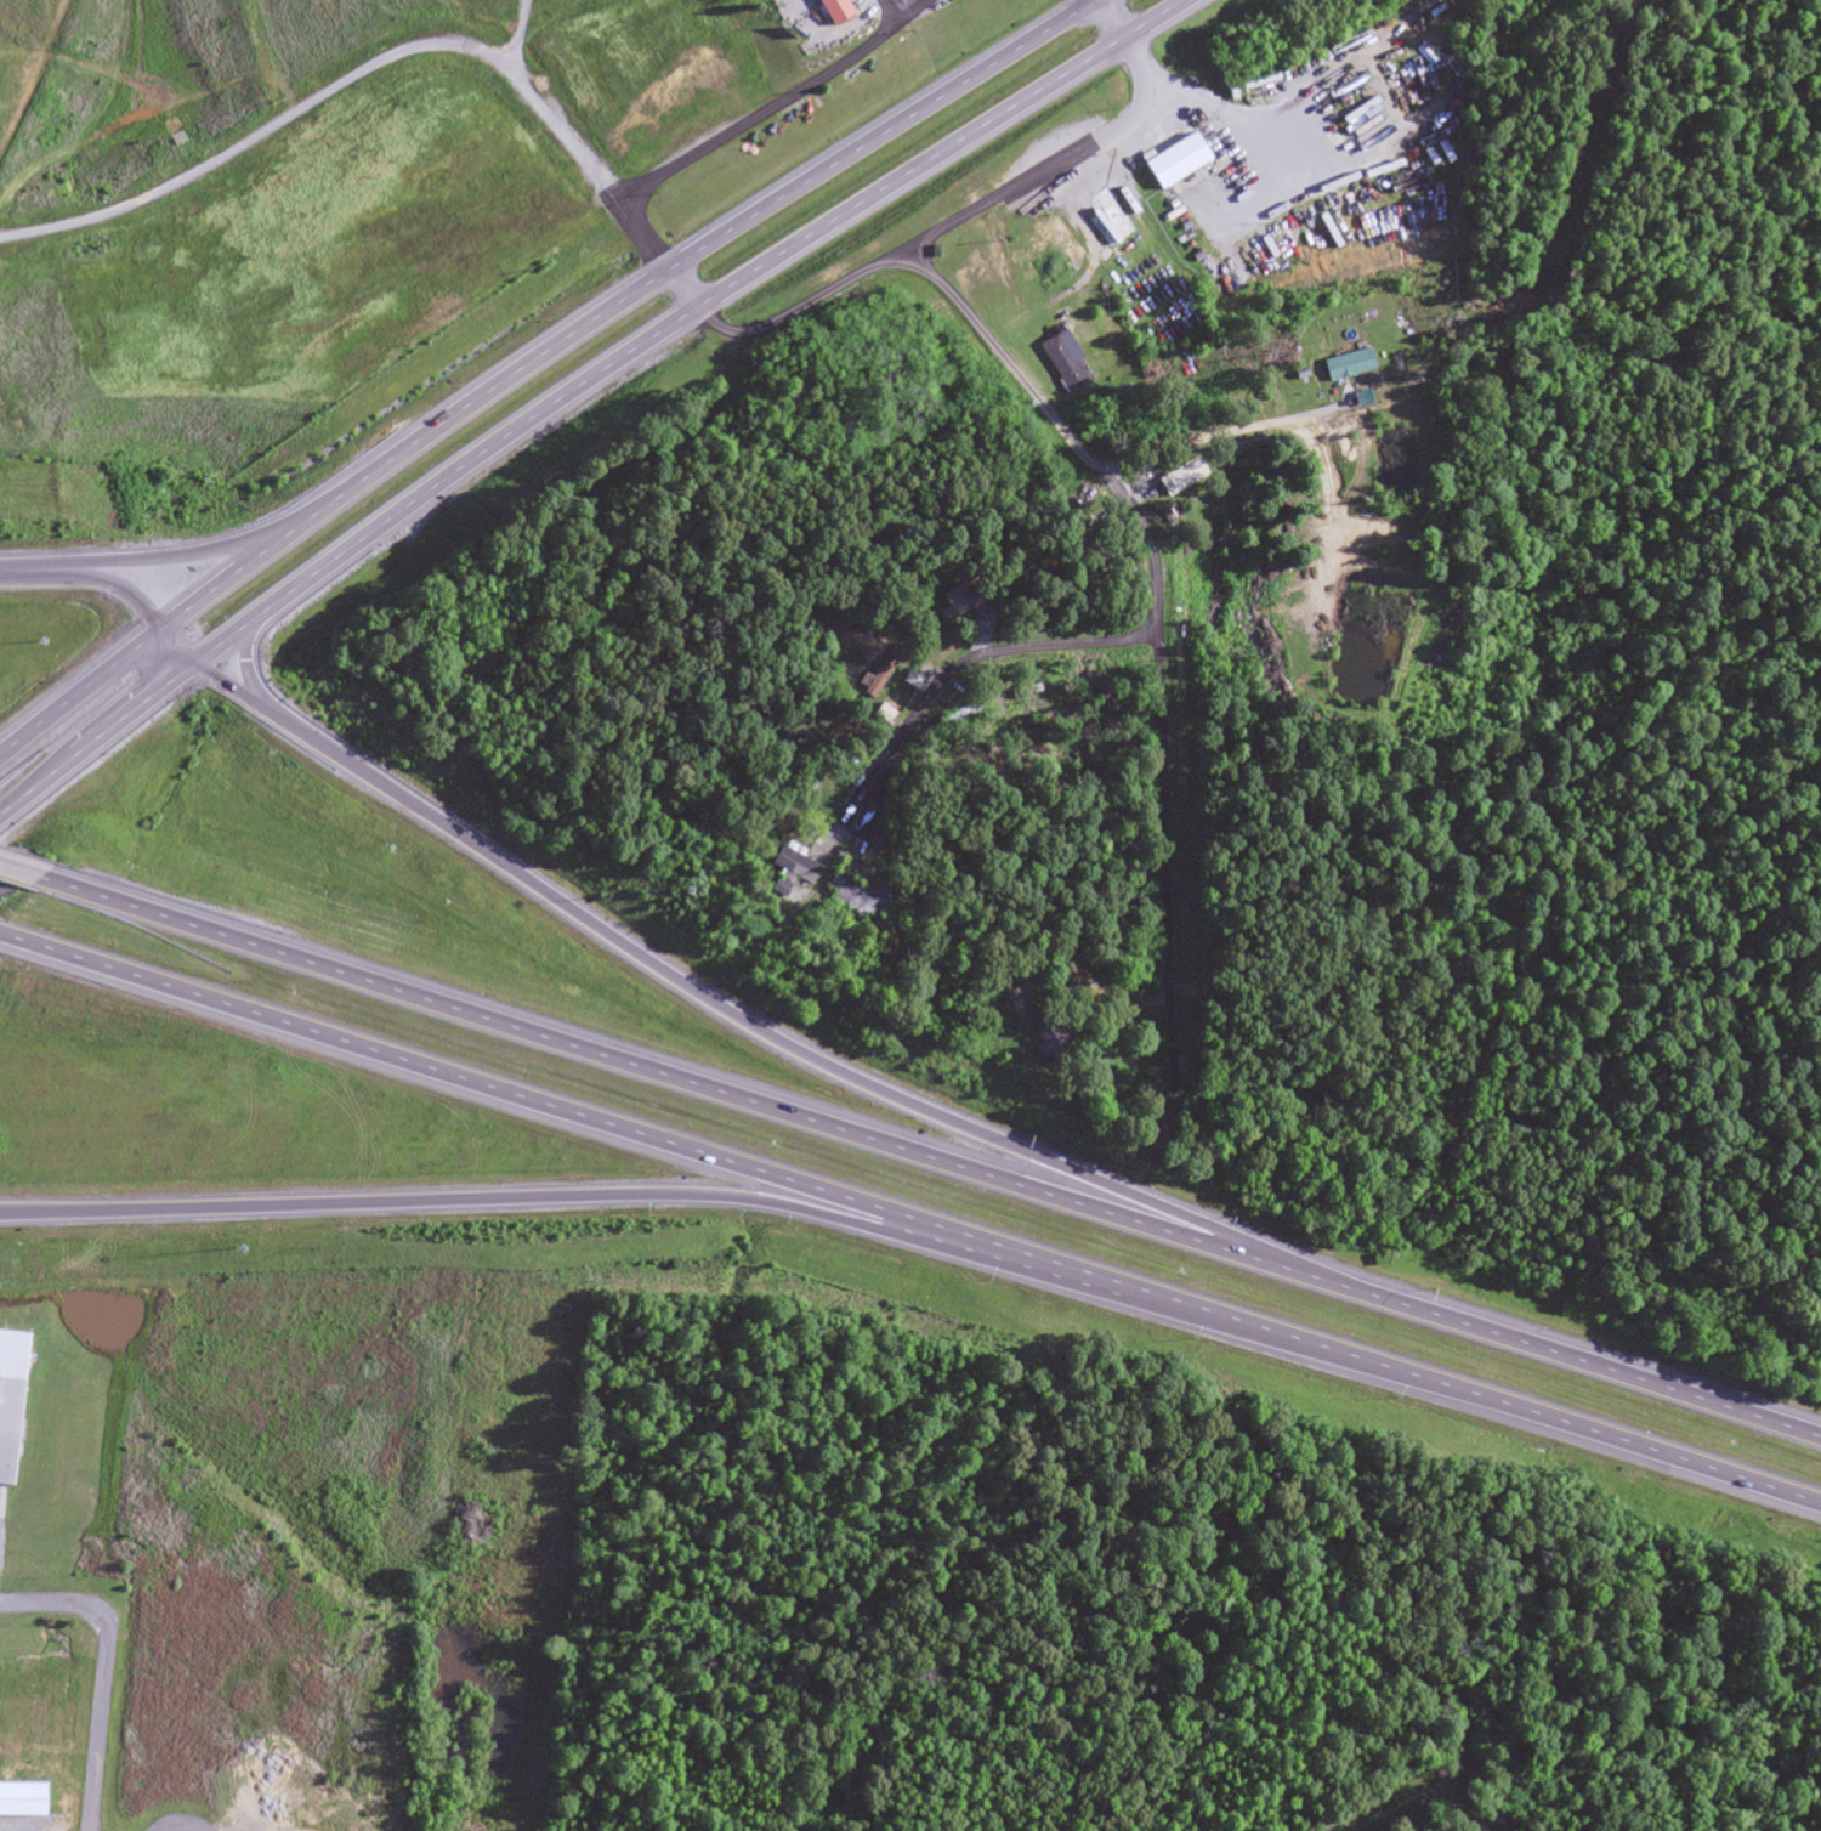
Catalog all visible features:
building: (838, 10)
road: (889, 13)
building: (1539, 15)
road: (925, 57)
road: (750, 123)
building: (1178, 158)
road: (954, 222)
building: (1114, 225)
building: (23, 243)
road: (534, 358)
building: (1070, 363)
building: (1344, 365)
road: (580, 389)
road: (1065, 430)
building: (1187, 483)
road: (174, 557)
road: (86, 583)
building: (968, 606)
road: (969, 664)
road: (210, 675)
building: (794, 865)
road: (1167, 867)
road: (22, 871)
building: (862, 895)
road: (730, 1010)
building: (1060, 1045)
road: (931, 1160)
road: (541, 1198)
road: (909, 1221)
building: (11, 1429)
road: (101, 1673)

